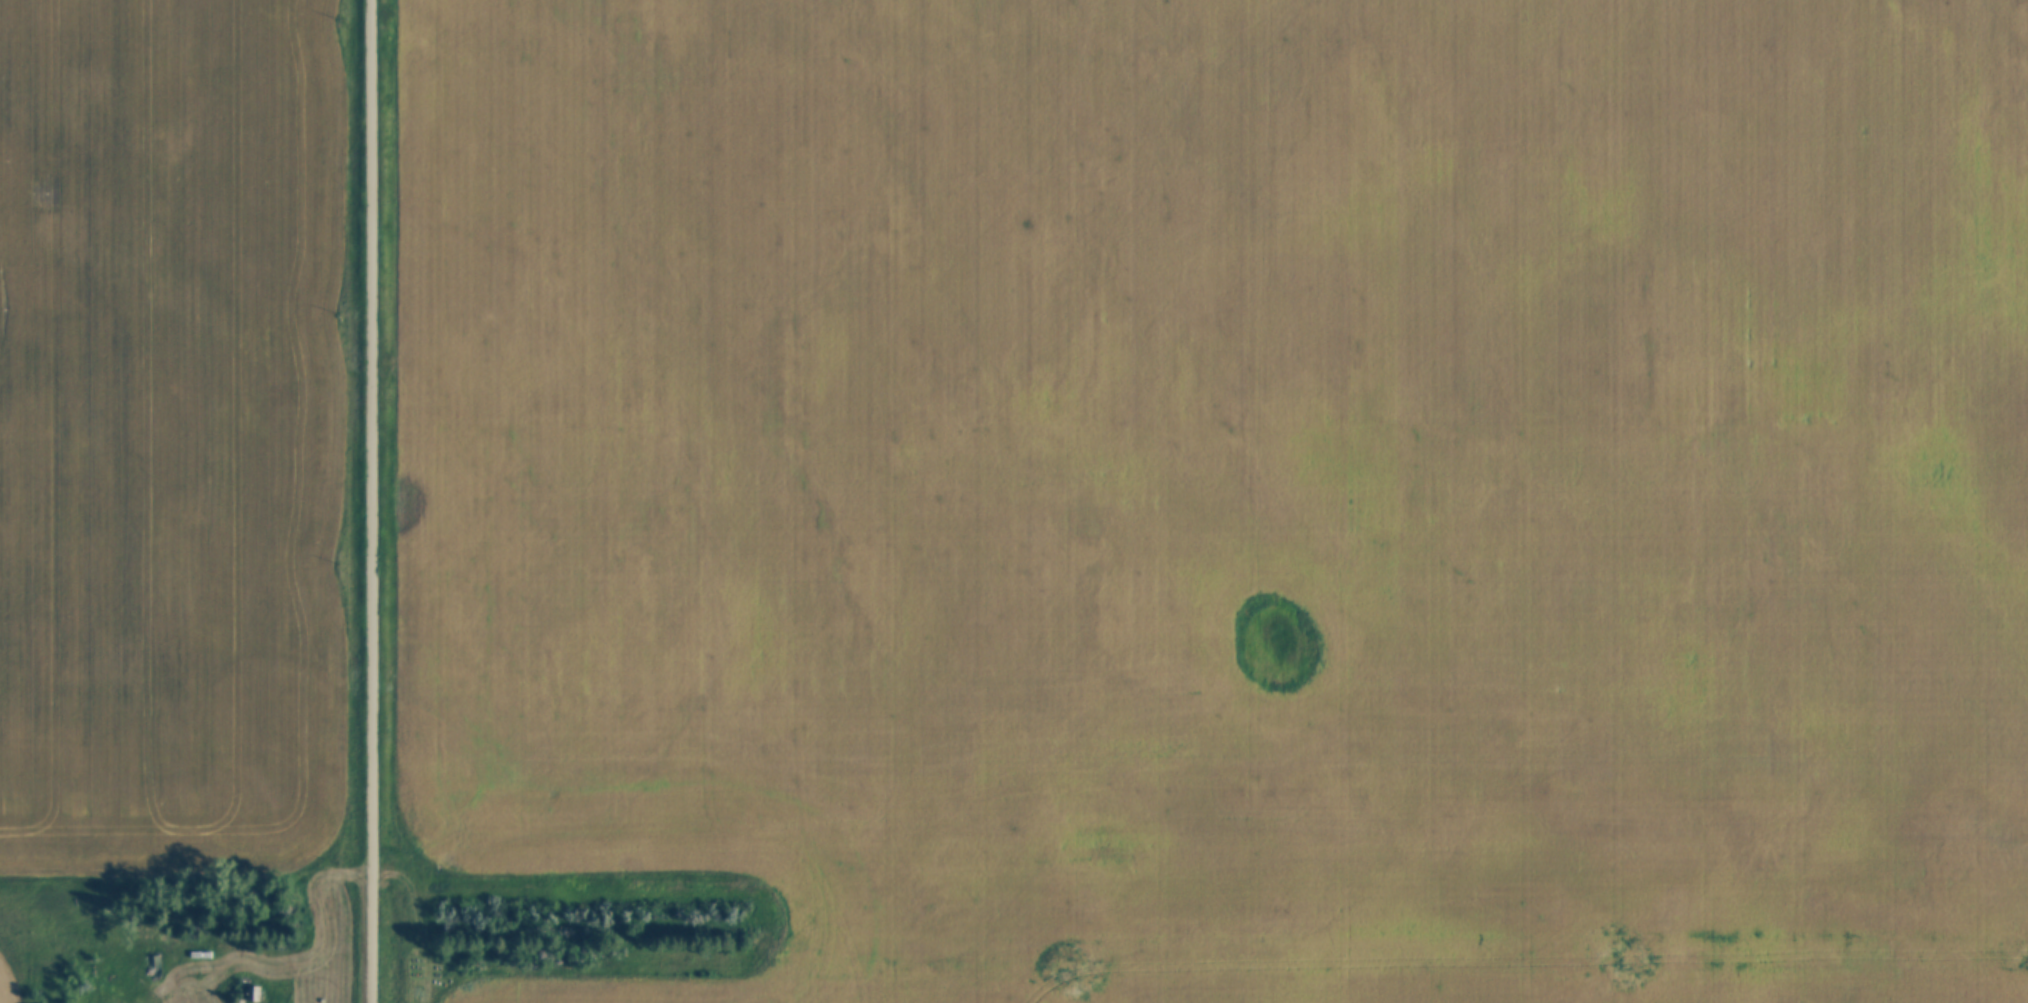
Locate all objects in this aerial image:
road: (371, 501)
building: (154, 965)
road: (20, 971)

